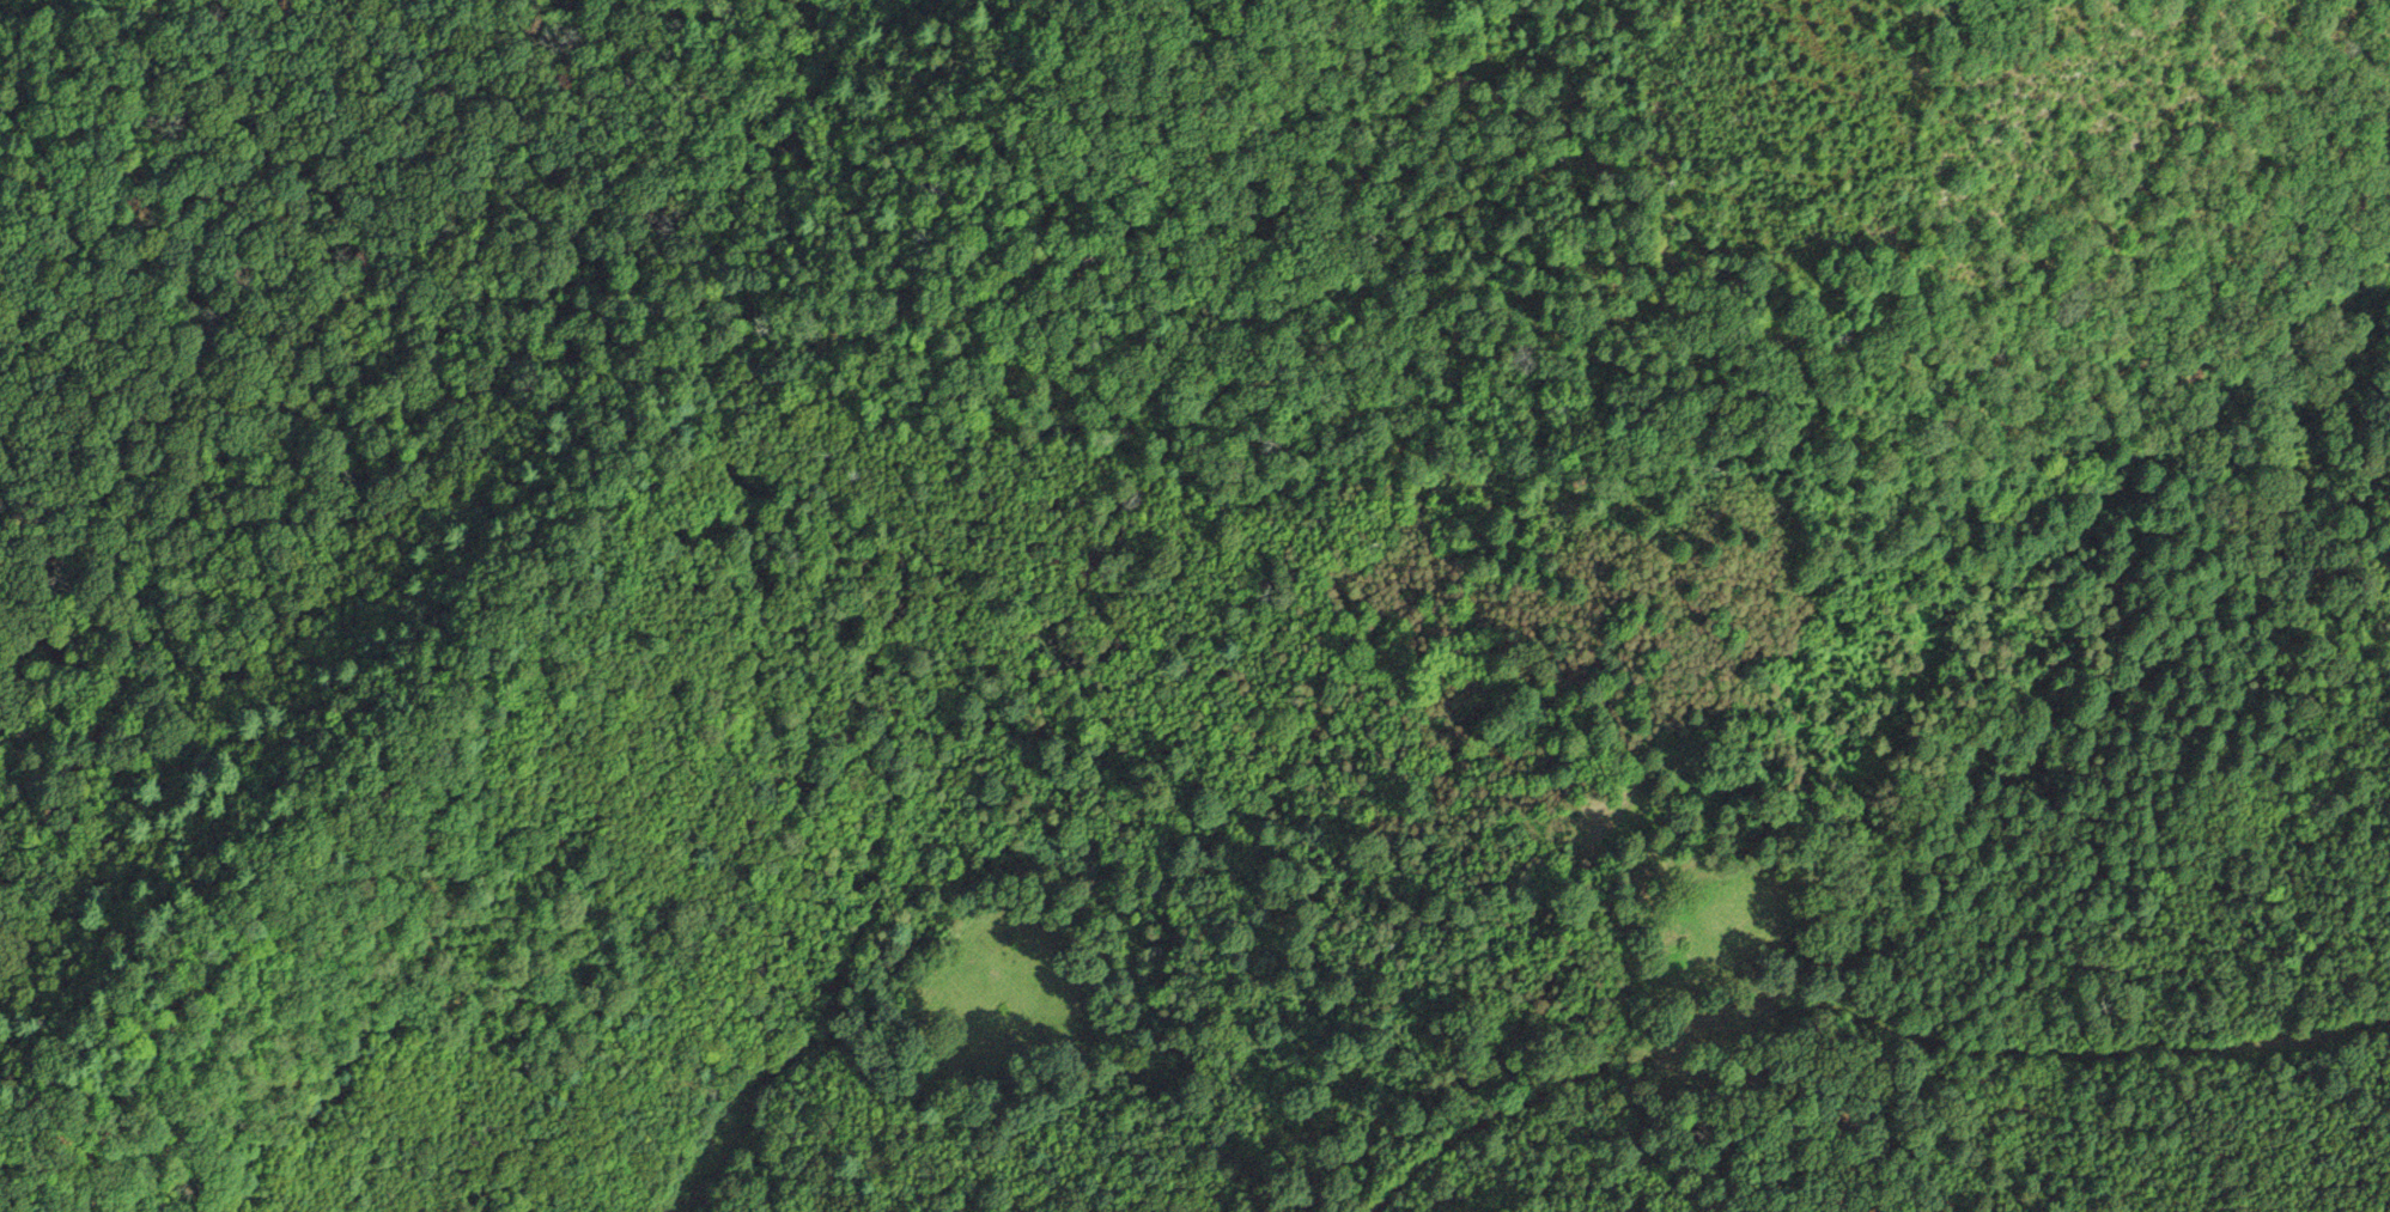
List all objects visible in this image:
road: (1375, 567)
road: (2023, 1054)
road: (1508, 1107)

